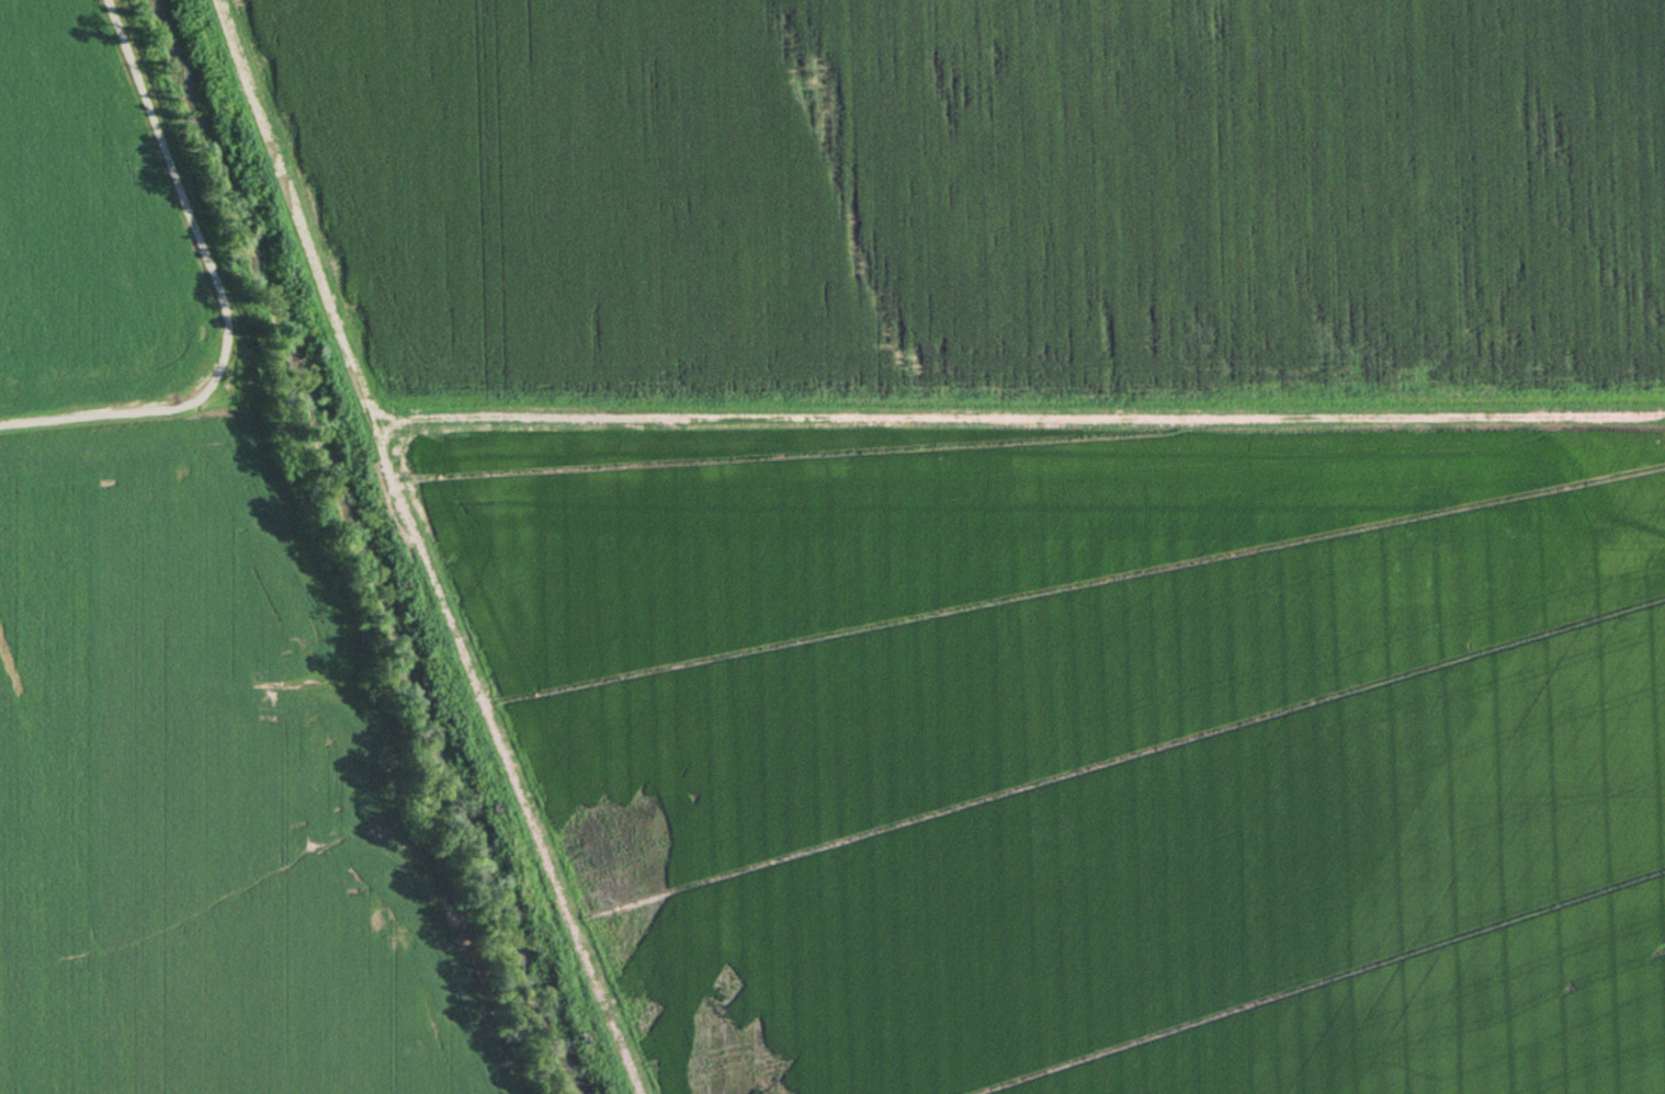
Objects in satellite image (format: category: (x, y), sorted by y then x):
road: (226, 299)
crop: (209, 793)

